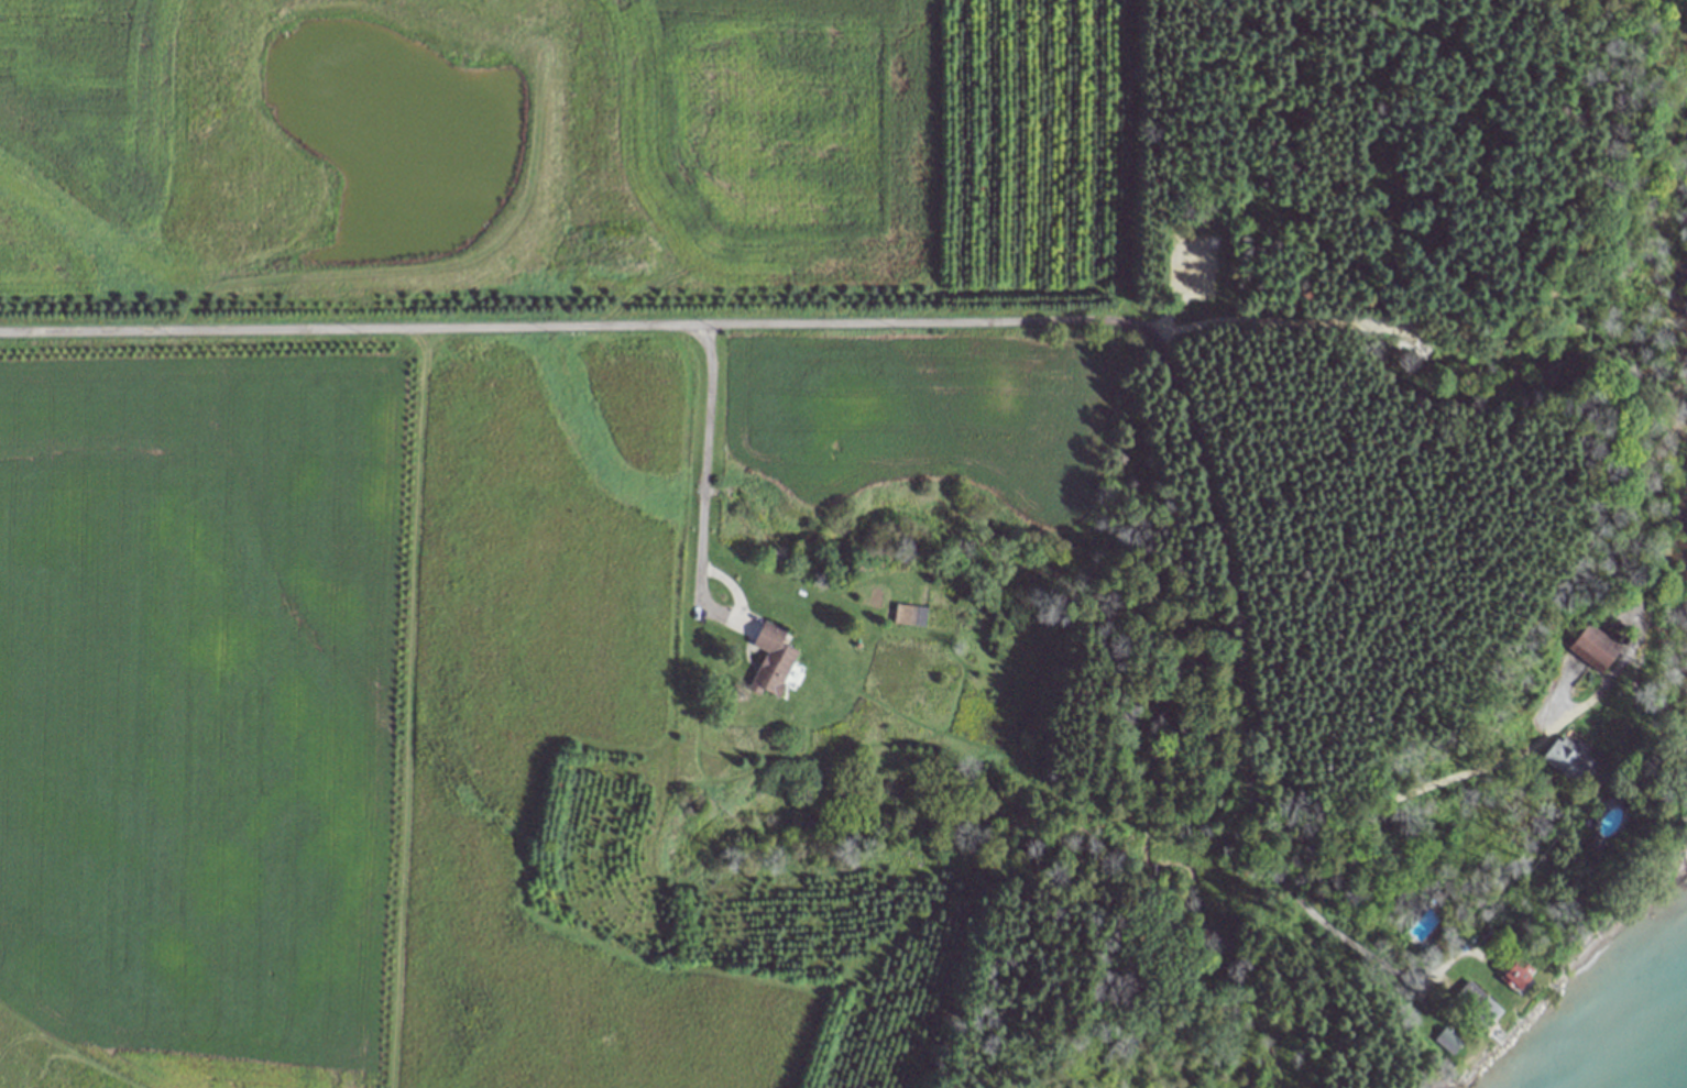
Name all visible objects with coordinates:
building: (1675, 11)
road: (1658, 21)
road: (562, 326)
road: (1511, 327)
road: (702, 455)
building: (907, 615)
building: (1604, 650)
building: (774, 660)
building: (1569, 760)
building: (1519, 975)
building: (1479, 1005)

